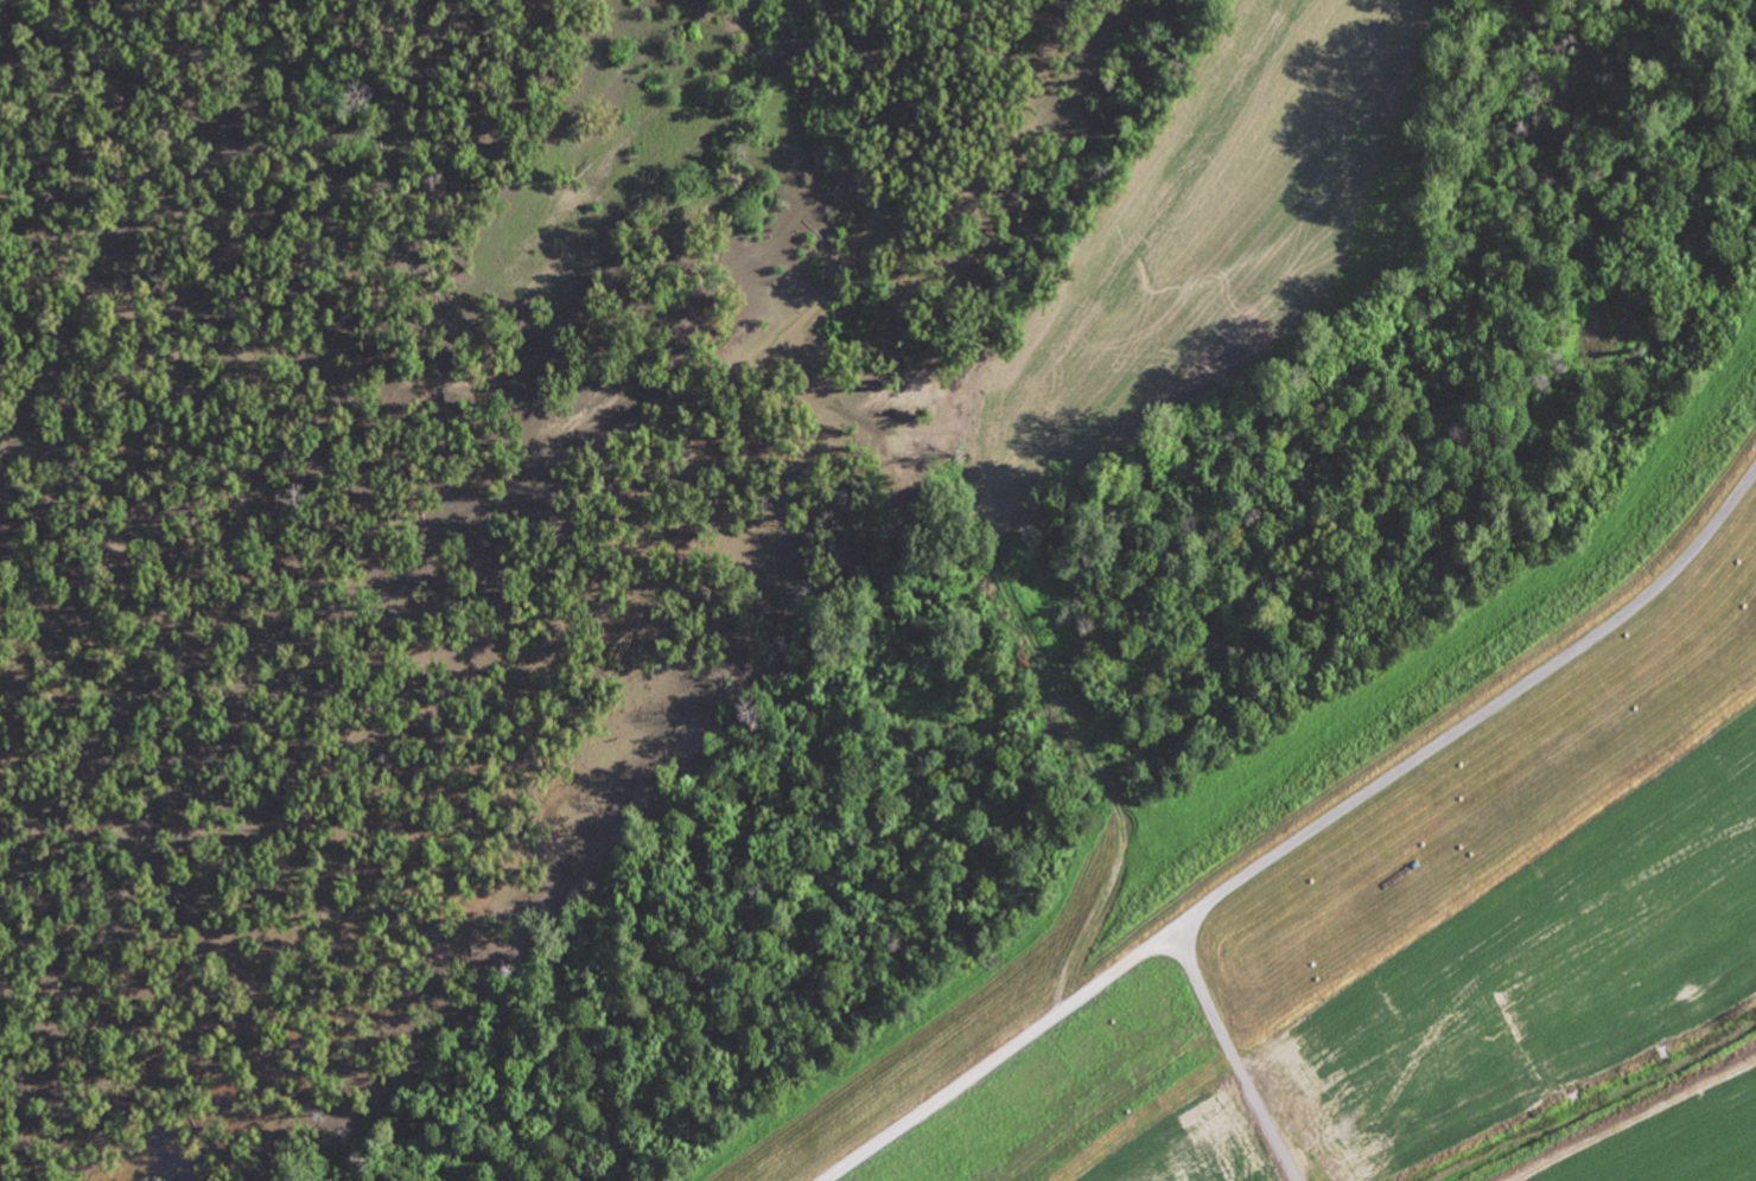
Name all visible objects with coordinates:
road: (1107, 780)
road: (1303, 840)
road: (1238, 1055)

